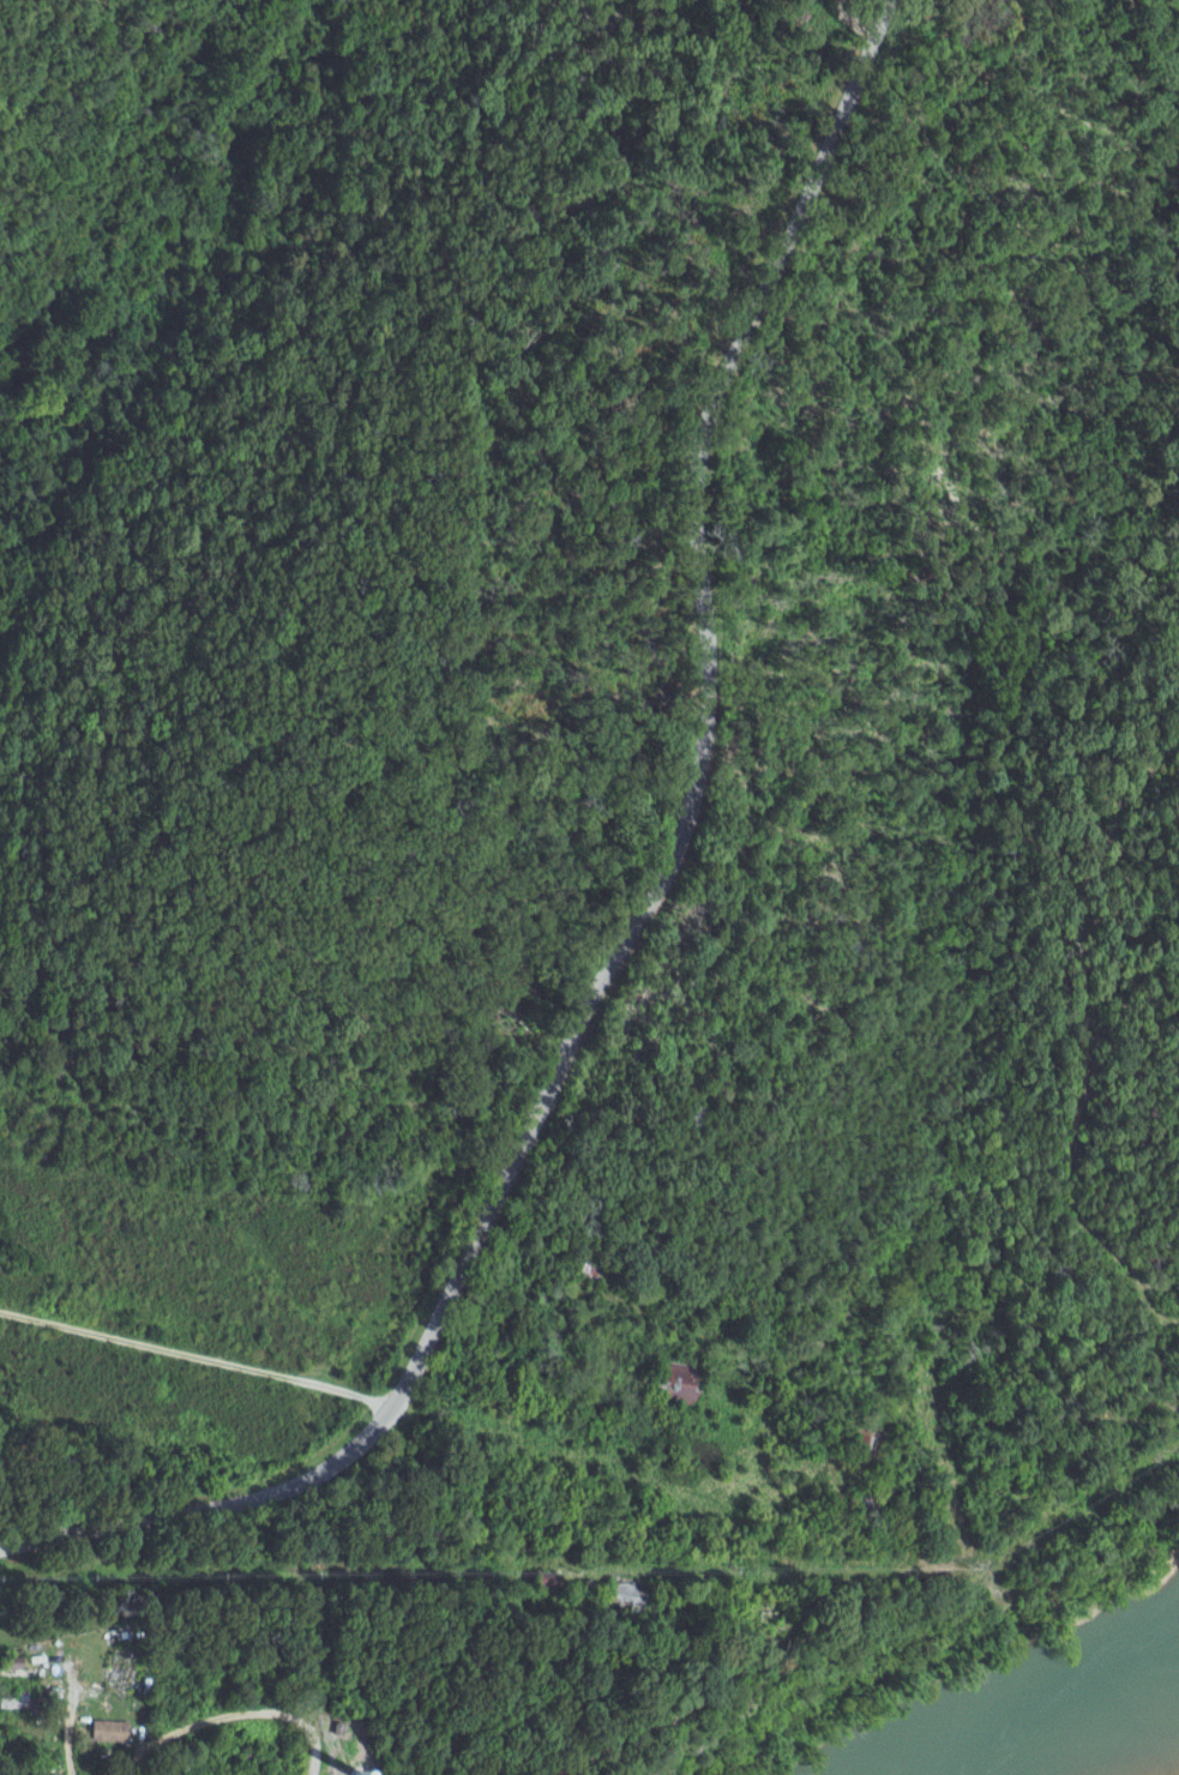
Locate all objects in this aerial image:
road: (632, 917)
road: (896, 1264)
road: (193, 1356)
building: (685, 1382)
road: (734, 1544)
building: (552, 1581)
road: (258, 1710)
road: (70, 1717)
river: (1081, 1721)
building: (112, 1729)
road: (143, 1758)
road: (463, 1763)

